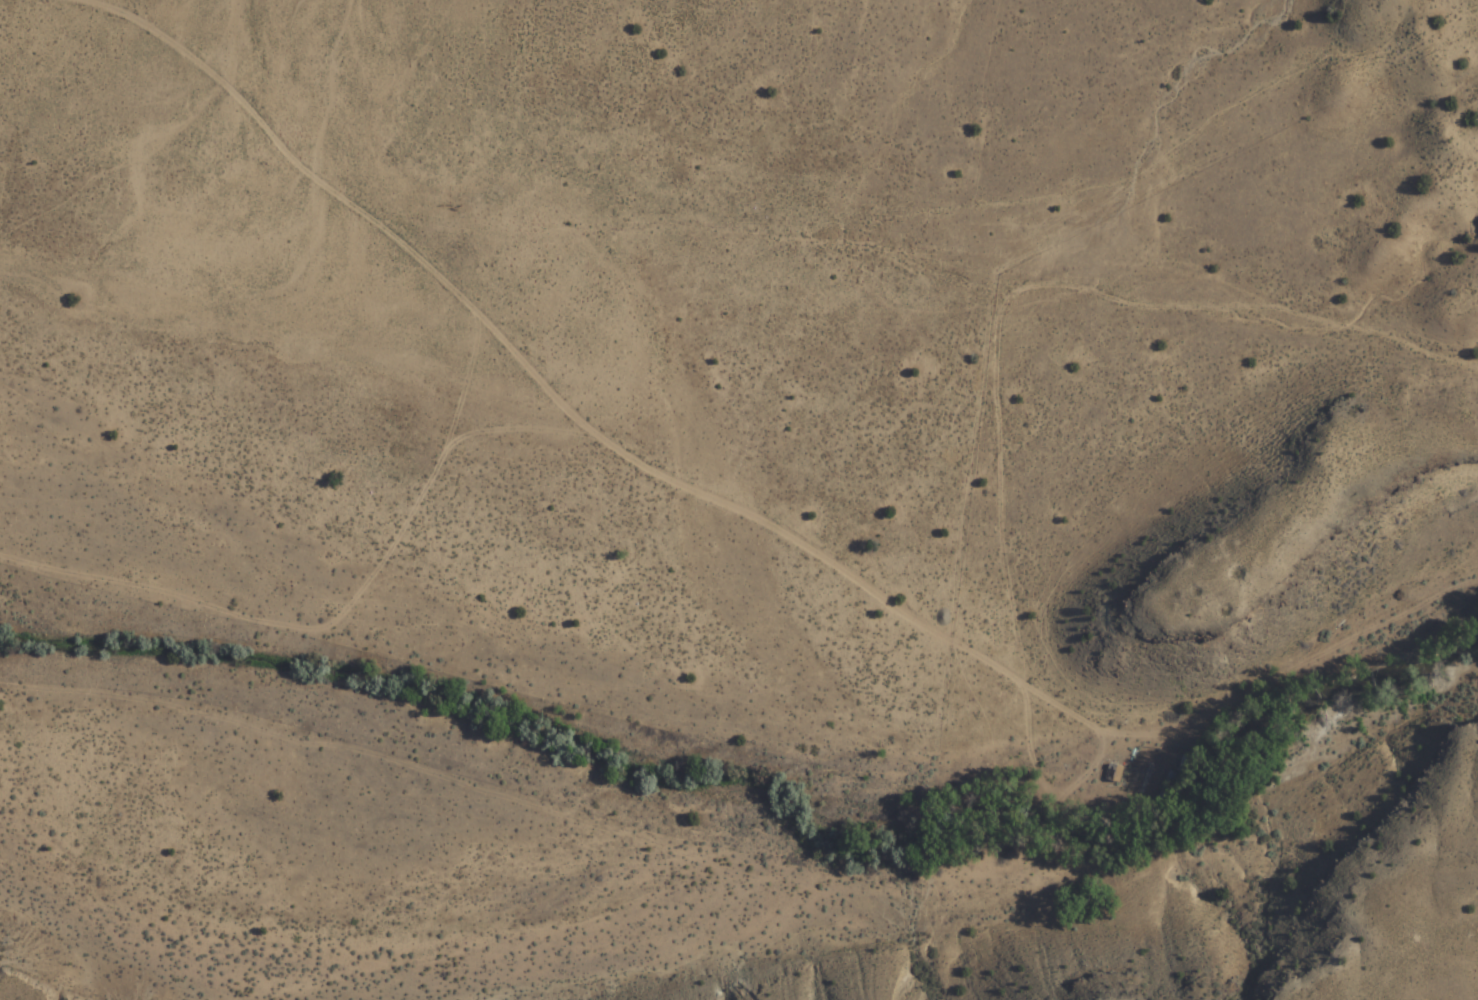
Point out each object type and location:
road: (765, 208)
river: (757, 767)
building: (1113, 773)
building: (1166, 786)

